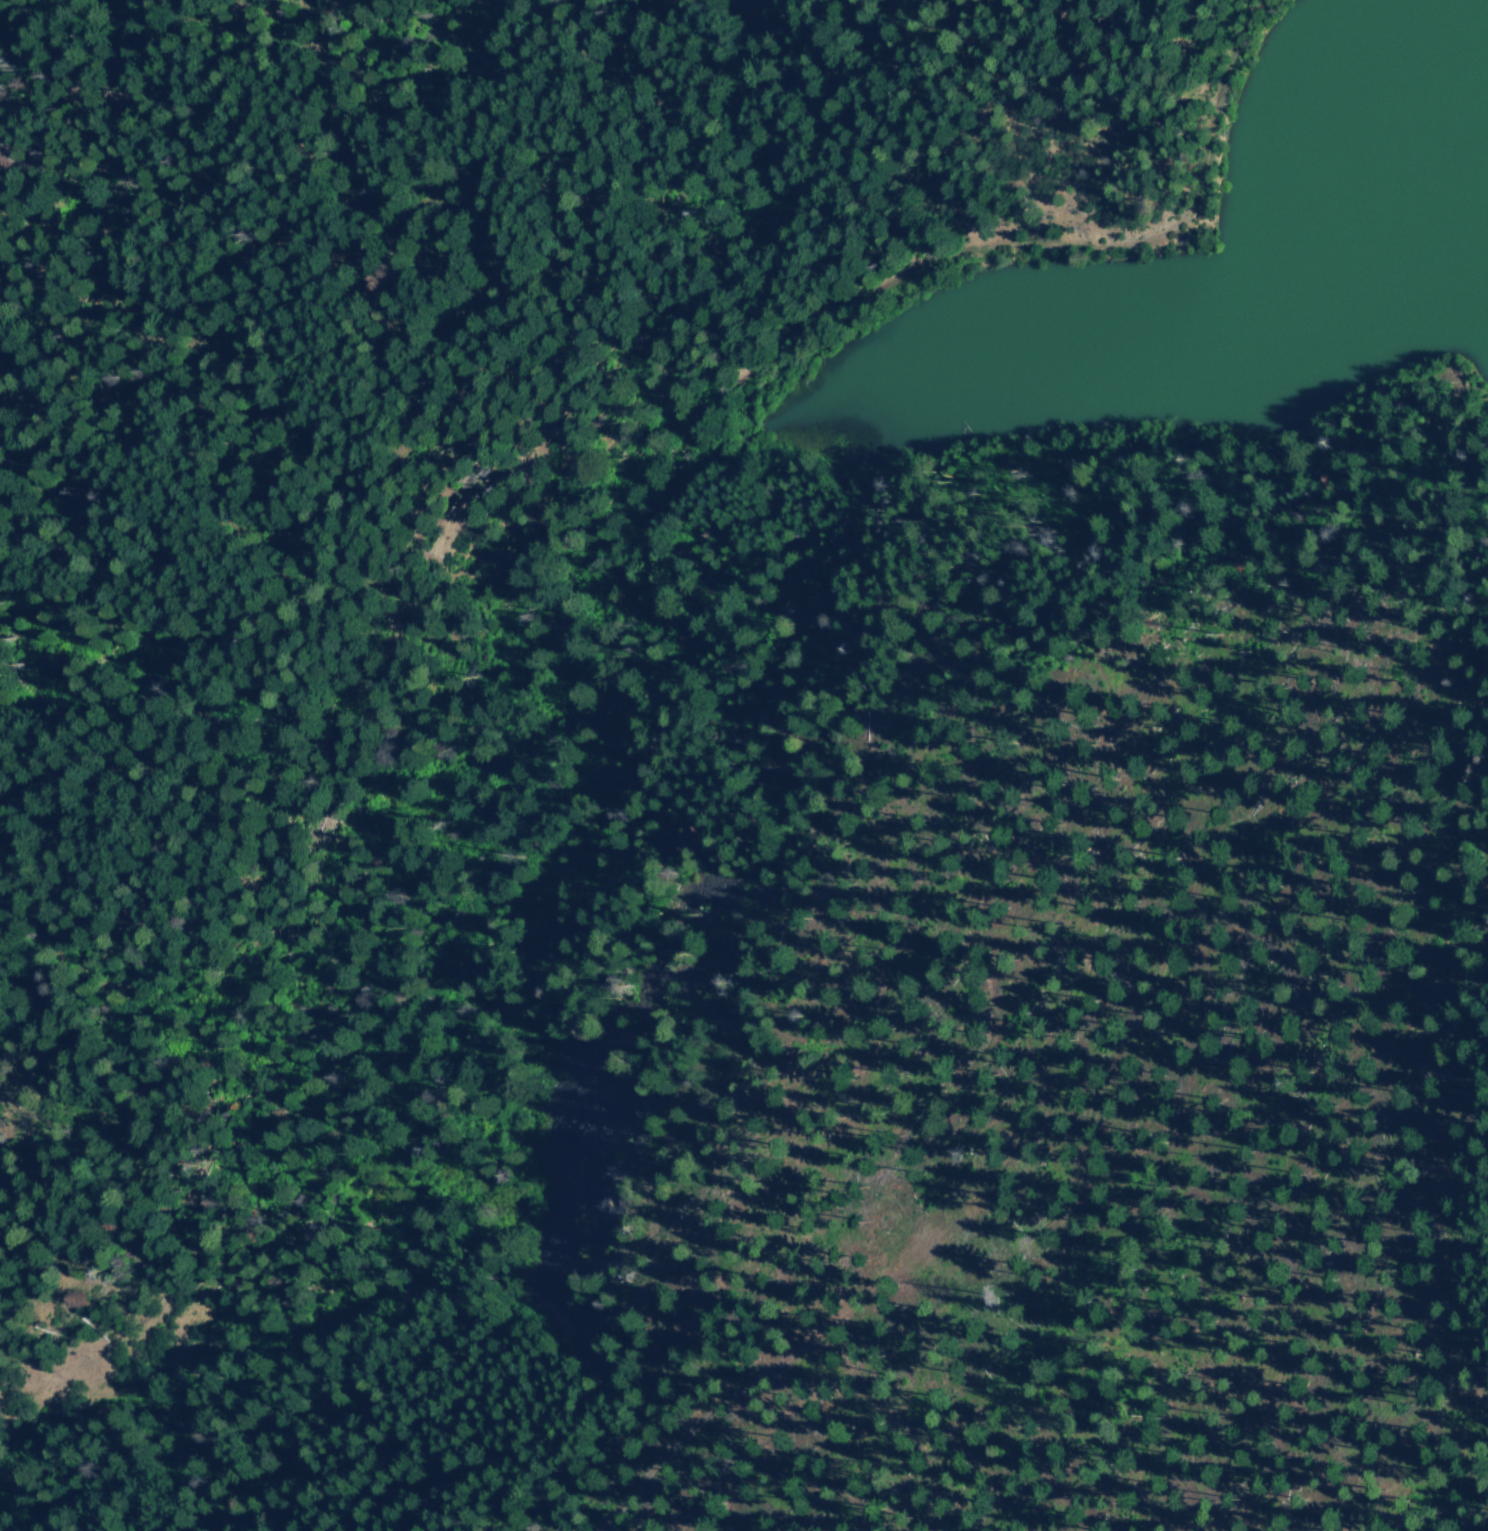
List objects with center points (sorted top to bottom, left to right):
road: (752, 1389)

